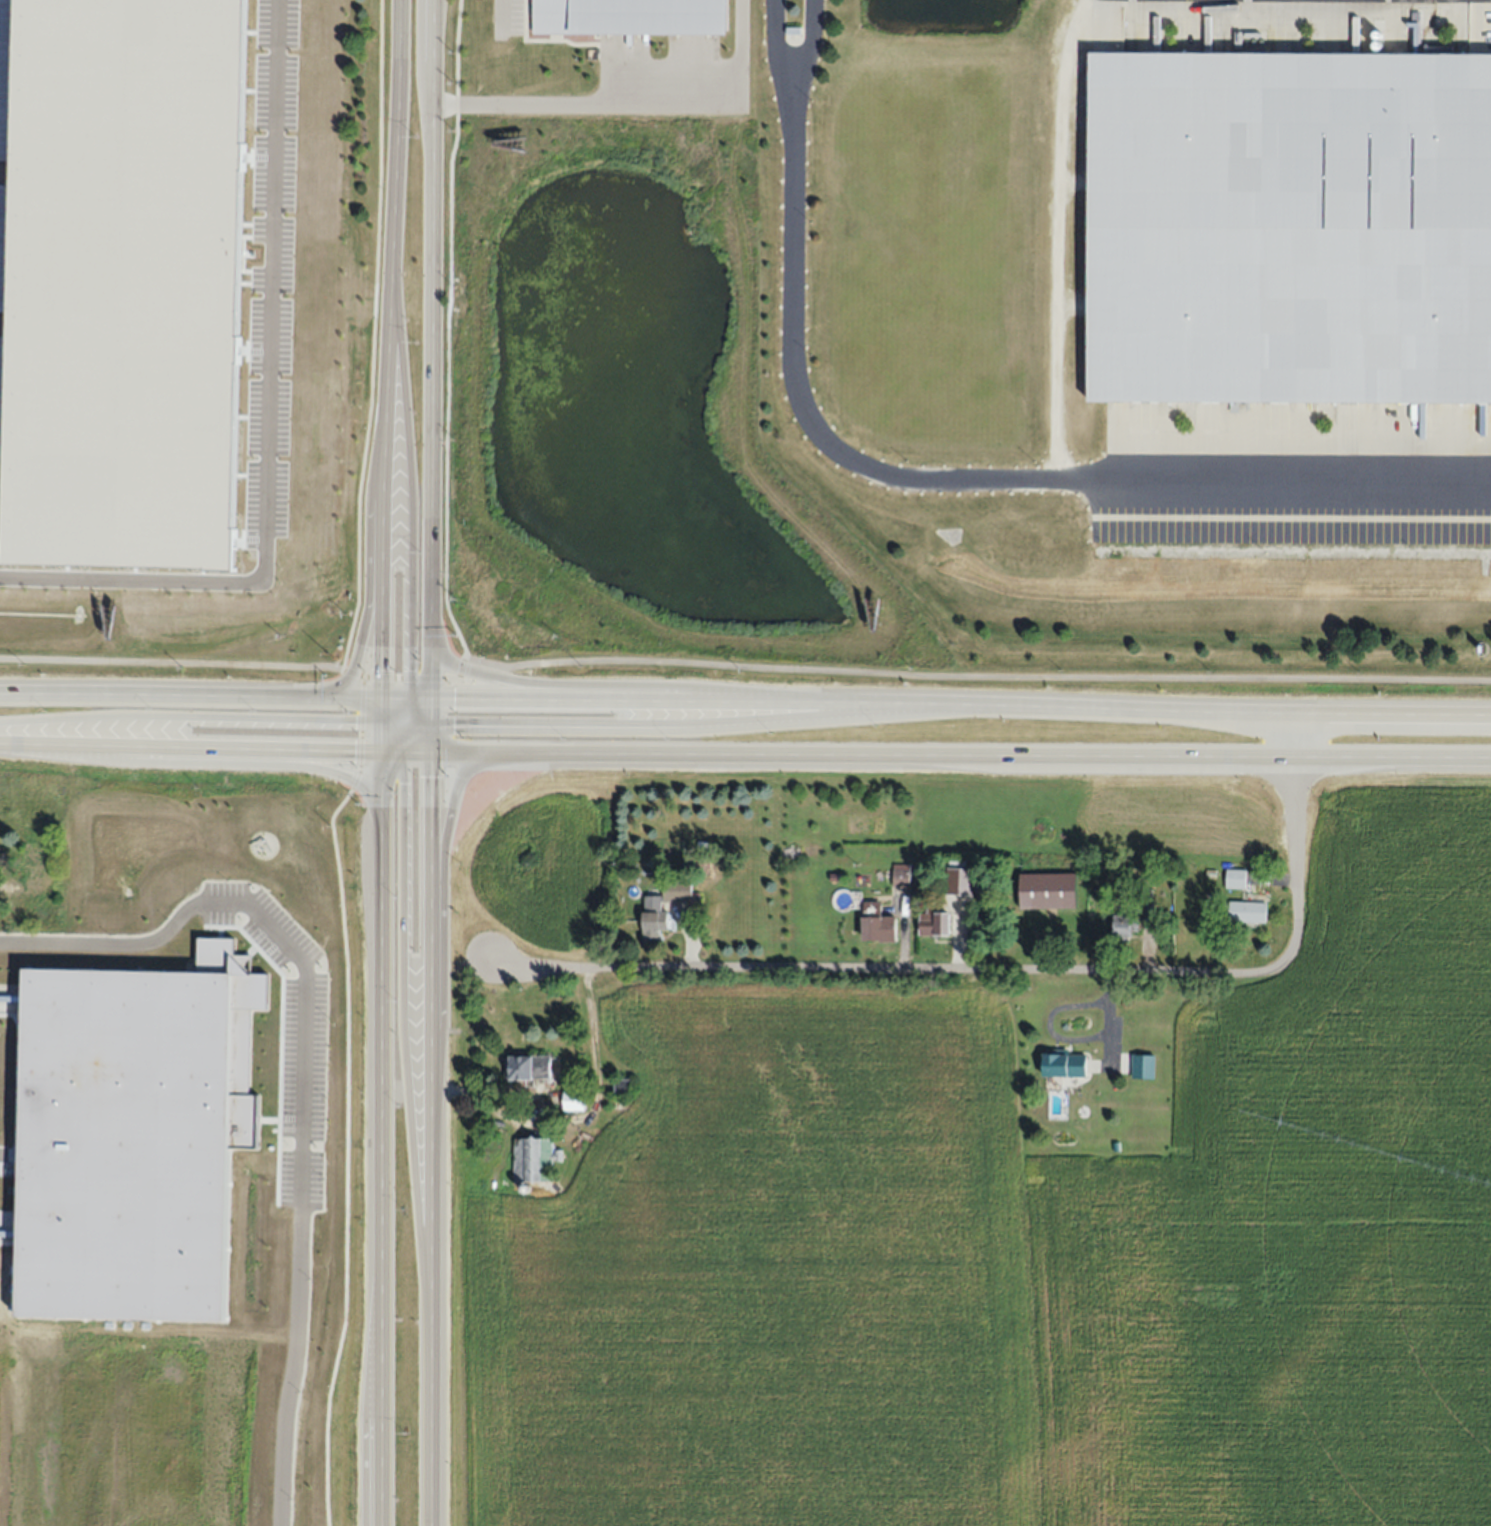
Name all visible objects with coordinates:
building: (632, 15)
road: (794, 60)
road: (629, 101)
building: (1288, 226)
road: (1057, 239)
road: (386, 348)
road: (429, 349)
road: (332, 418)
road: (411, 475)
road: (959, 480)
road: (371, 591)
road: (744, 664)
road: (613, 690)
road: (190, 695)
traffic signals: (382, 697)
road: (396, 697)
traffic signals: (411, 698)
road: (419, 698)
traffic signals: (427, 699)
road: (958, 703)
road: (392, 705)
road: (411, 706)
road: (381, 708)
road: (421, 708)
road: (427, 712)
road: (190, 715)
road: (405, 716)
road: (389, 718)
road: (412, 721)
road: (654, 722)
road: (400, 725)
road: (420, 726)
road: (408, 730)
road: (380, 734)
road: (427, 738)
road: (390, 739)
road: (404, 740)
road: (418, 740)
road: (189, 745)
traffic signals: (379, 749)
road: (392, 749)
traffic signals: (405, 750)
road: (416, 750)
traffic signals: (427, 751)
road: (959, 752)
road: (218, 760)
road: (379, 777)
road: (1293, 838)
road: (425, 857)
building: (31, 875)
building: (901, 878)
building: (1236, 878)
building: (960, 882)
building: (1047, 890)
building: (677, 892)
road: (444, 912)
building: (1247, 912)
building: (934, 921)
building: (878, 923)
building: (654, 925)
building: (1125, 926)
road: (889, 973)
road: (406, 1011)
building: (1064, 1064)
building: (529, 1067)
building: (623, 1086)
building: (574, 1101)
building: (534, 1159)
road: (377, 1165)
road: (428, 1244)

